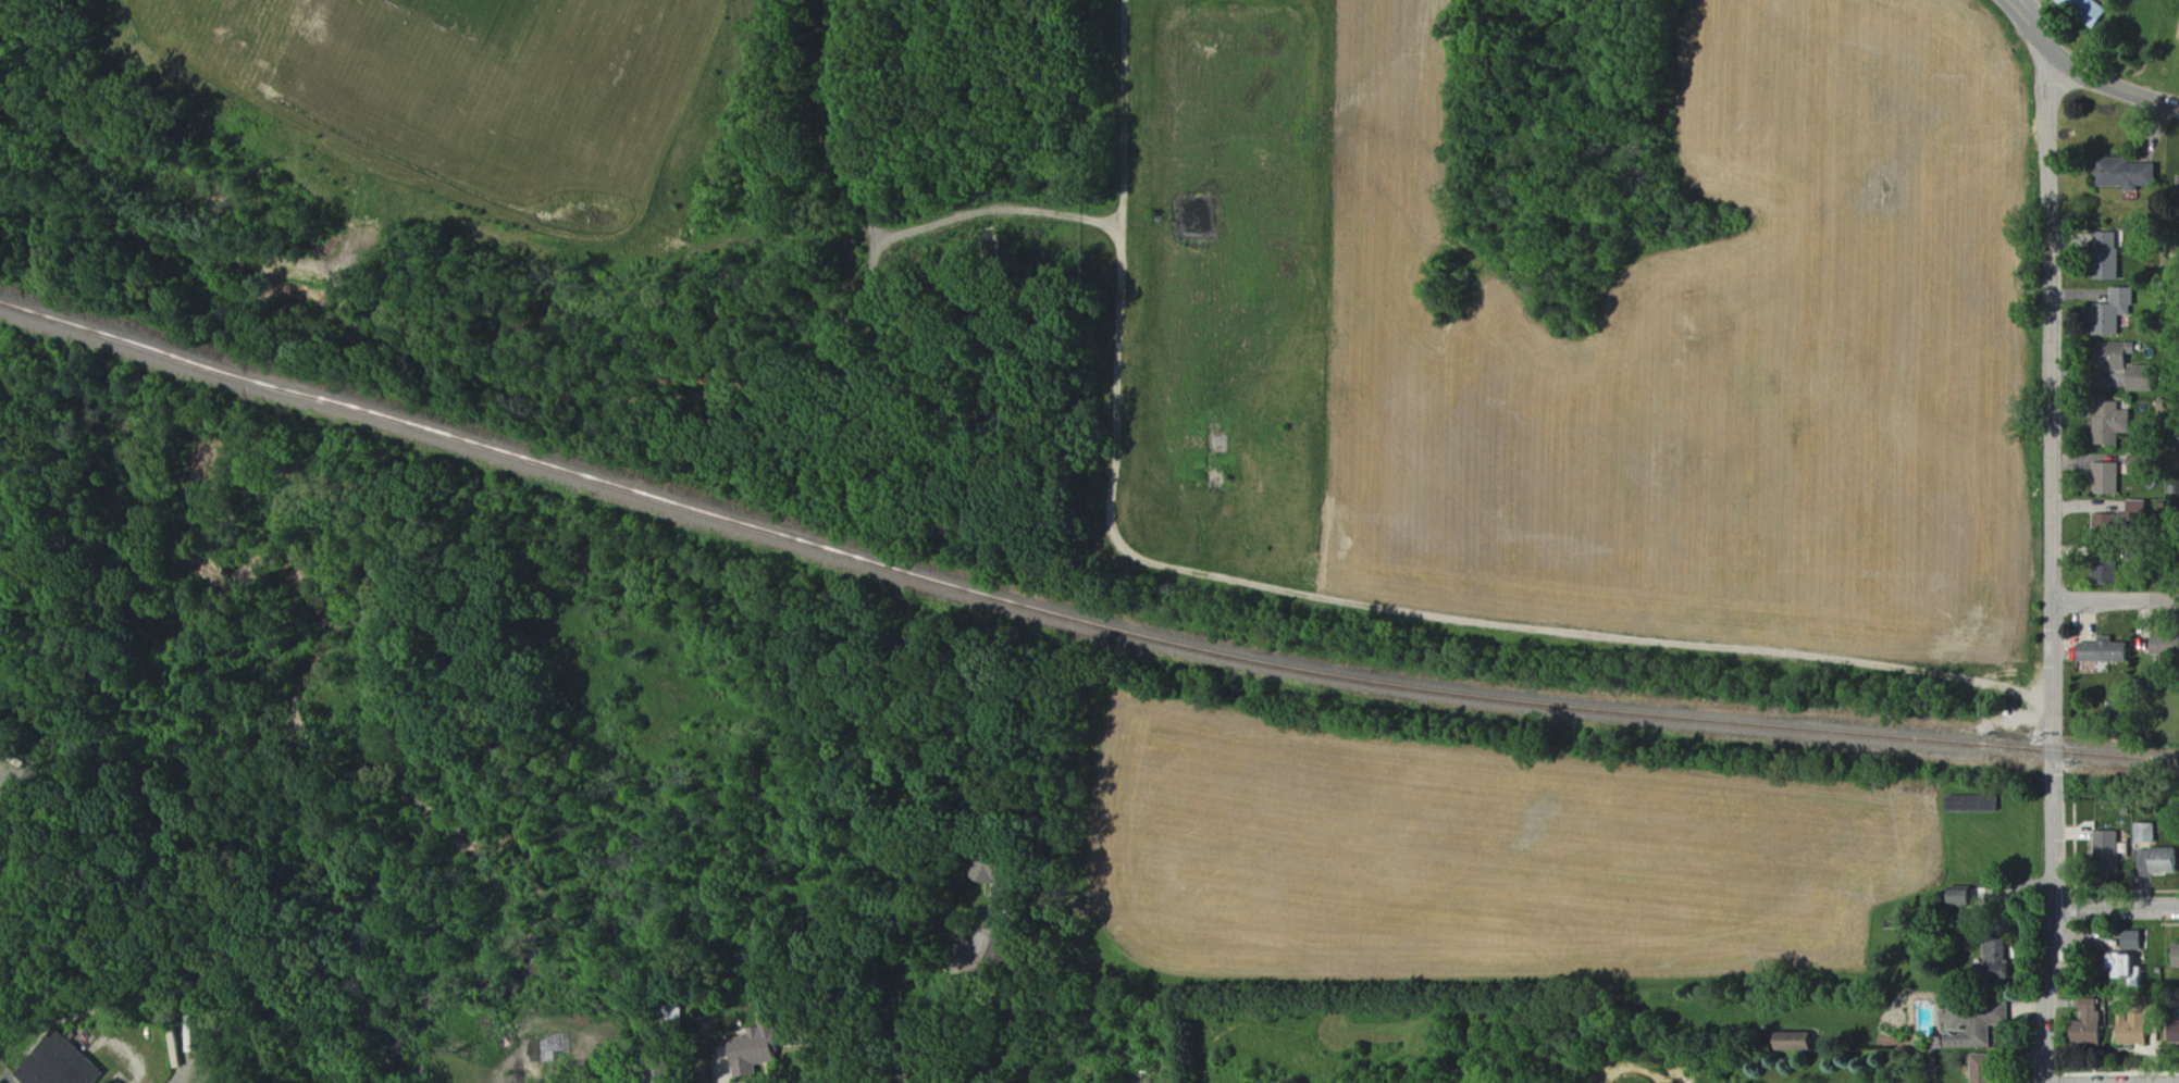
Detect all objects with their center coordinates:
building: (2090, 11)
road: (2032, 27)
park: (2157, 35)
road: (2115, 88)
building: (2130, 175)
building: (2112, 256)
building: (2117, 312)
railway: (109, 336)
building: (2128, 351)
railway: (230, 372)
building: (2145, 378)
building: (2113, 424)
building: (2144, 464)
building: (2108, 480)
building: (2141, 512)
building: (2110, 526)
road: (2052, 571)
building: (2109, 574)
road: (2115, 601)
building: (2168, 645)
railway: (1193, 648)
building: (2108, 651)
building: (1974, 805)
building: (2112, 827)
building: (2147, 835)
building: (2165, 862)
building: (1010, 880)
building: (1965, 896)
road: (2114, 906)
building: (2134, 942)
building: (2000, 954)
building: (2176, 956)
building: (1001, 957)
building: (2121, 970)
road: (944, 992)
building: (670, 1014)
building: (2134, 1018)
building: (1978, 1024)
building: (2085, 1028)
building: (2172, 1033)
building: (1798, 1043)
building: (758, 1048)
building: (52, 1061)
building: (1988, 1069)
building: (645, 1073)
building: (107, 1081)
building: (113, 1082)

